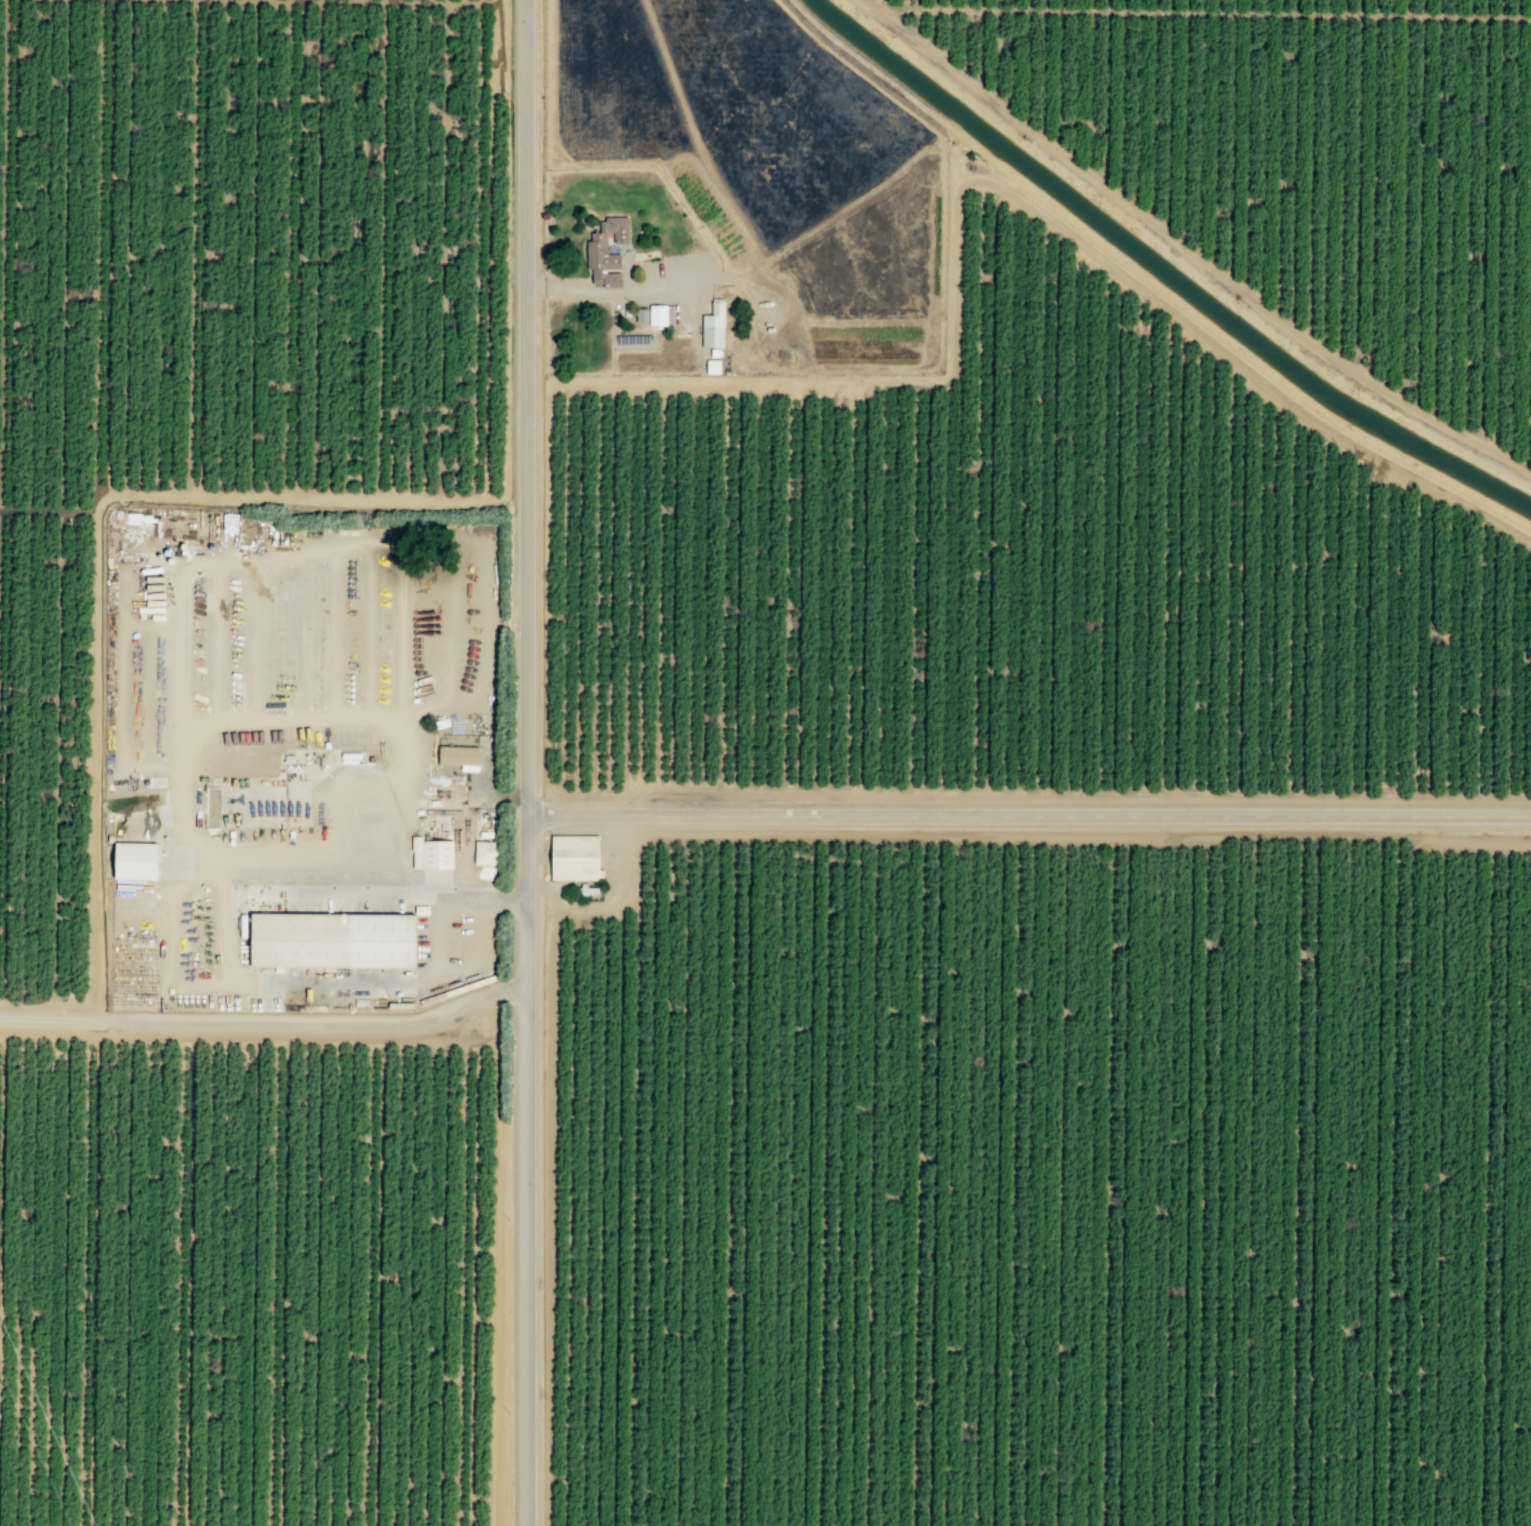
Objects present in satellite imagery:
road: (448, 0)
road: (111, 246)
road: (203, 248)
road: (302, 249)
road: (395, 250)
road: (490, 251)
building: (607, 252)
building: (643, 315)
building: (662, 315)
building: (714, 326)
building: (713, 367)
road: (524, 408)
road: (256, 497)
road: (11, 508)
building: (461, 757)
road: (1028, 815)
building: (487, 852)
building: (432, 853)
building: (575, 857)
building: (136, 862)
road: (178, 930)
building: (333, 939)
road: (268, 1024)
road: (2, 1146)
road: (525, 1170)
road: (500, 1261)
road: (94, 1273)
road: (188, 1274)
road: (283, 1275)

